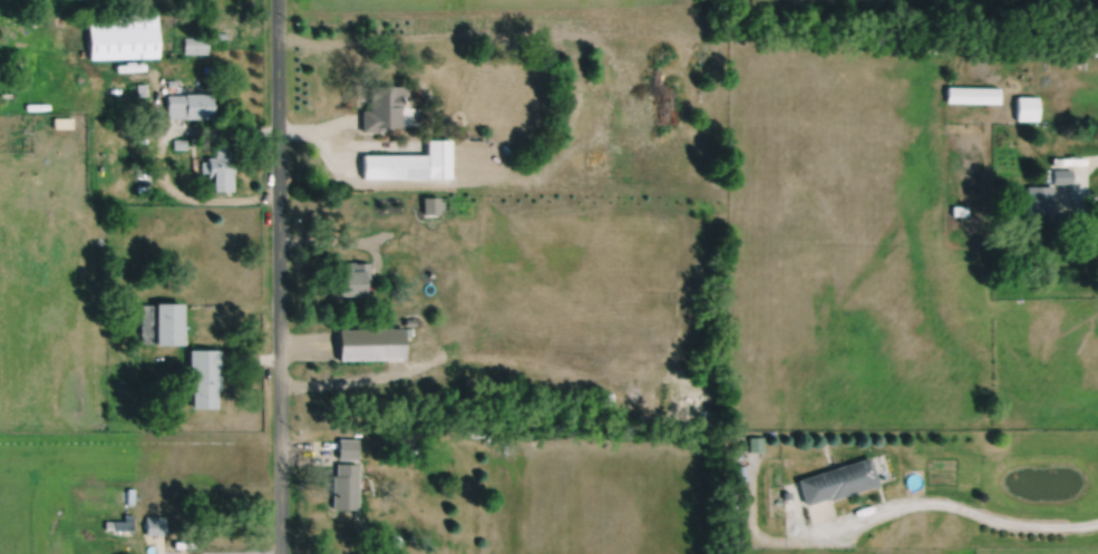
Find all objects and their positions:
building: (122, 36)
building: (221, 36)
building: (194, 43)
road: (149, 74)
building: (171, 81)
building: (139, 88)
building: (971, 94)
building: (190, 105)
building: (381, 106)
building: (1024, 106)
building: (420, 118)
building: (60, 123)
building: (177, 142)
road: (158, 155)
building: (408, 161)
building: (218, 165)
building: (1060, 174)
road: (1079, 179)
building: (1038, 197)
building: (431, 202)
building: (391, 206)
building: (959, 208)
building: (1063, 215)
building: (1089, 239)
building: (351, 274)
road: (278, 276)
building: (159, 320)
building: (370, 341)
road: (250, 358)
building: (202, 373)
building: (755, 443)
building: (406, 445)
building: (347, 446)
crop: (113, 473)
building: (739, 473)
building: (836, 479)
building: (344, 484)
building: (128, 494)
building: (785, 494)
road: (887, 508)
building: (119, 522)
building: (154, 523)
road: (212, 552)

